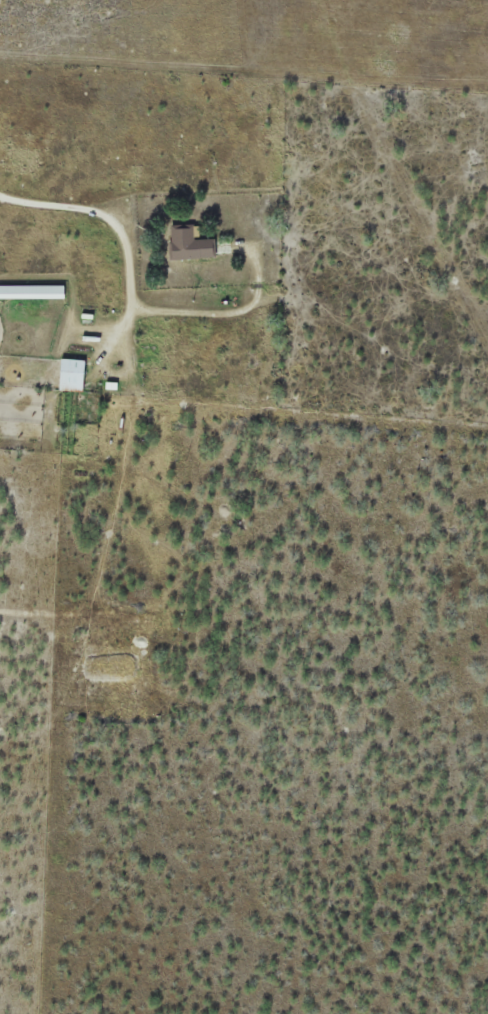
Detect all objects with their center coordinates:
building: (186, 244)
building: (30, 292)
building: (67, 375)
building: (110, 657)

